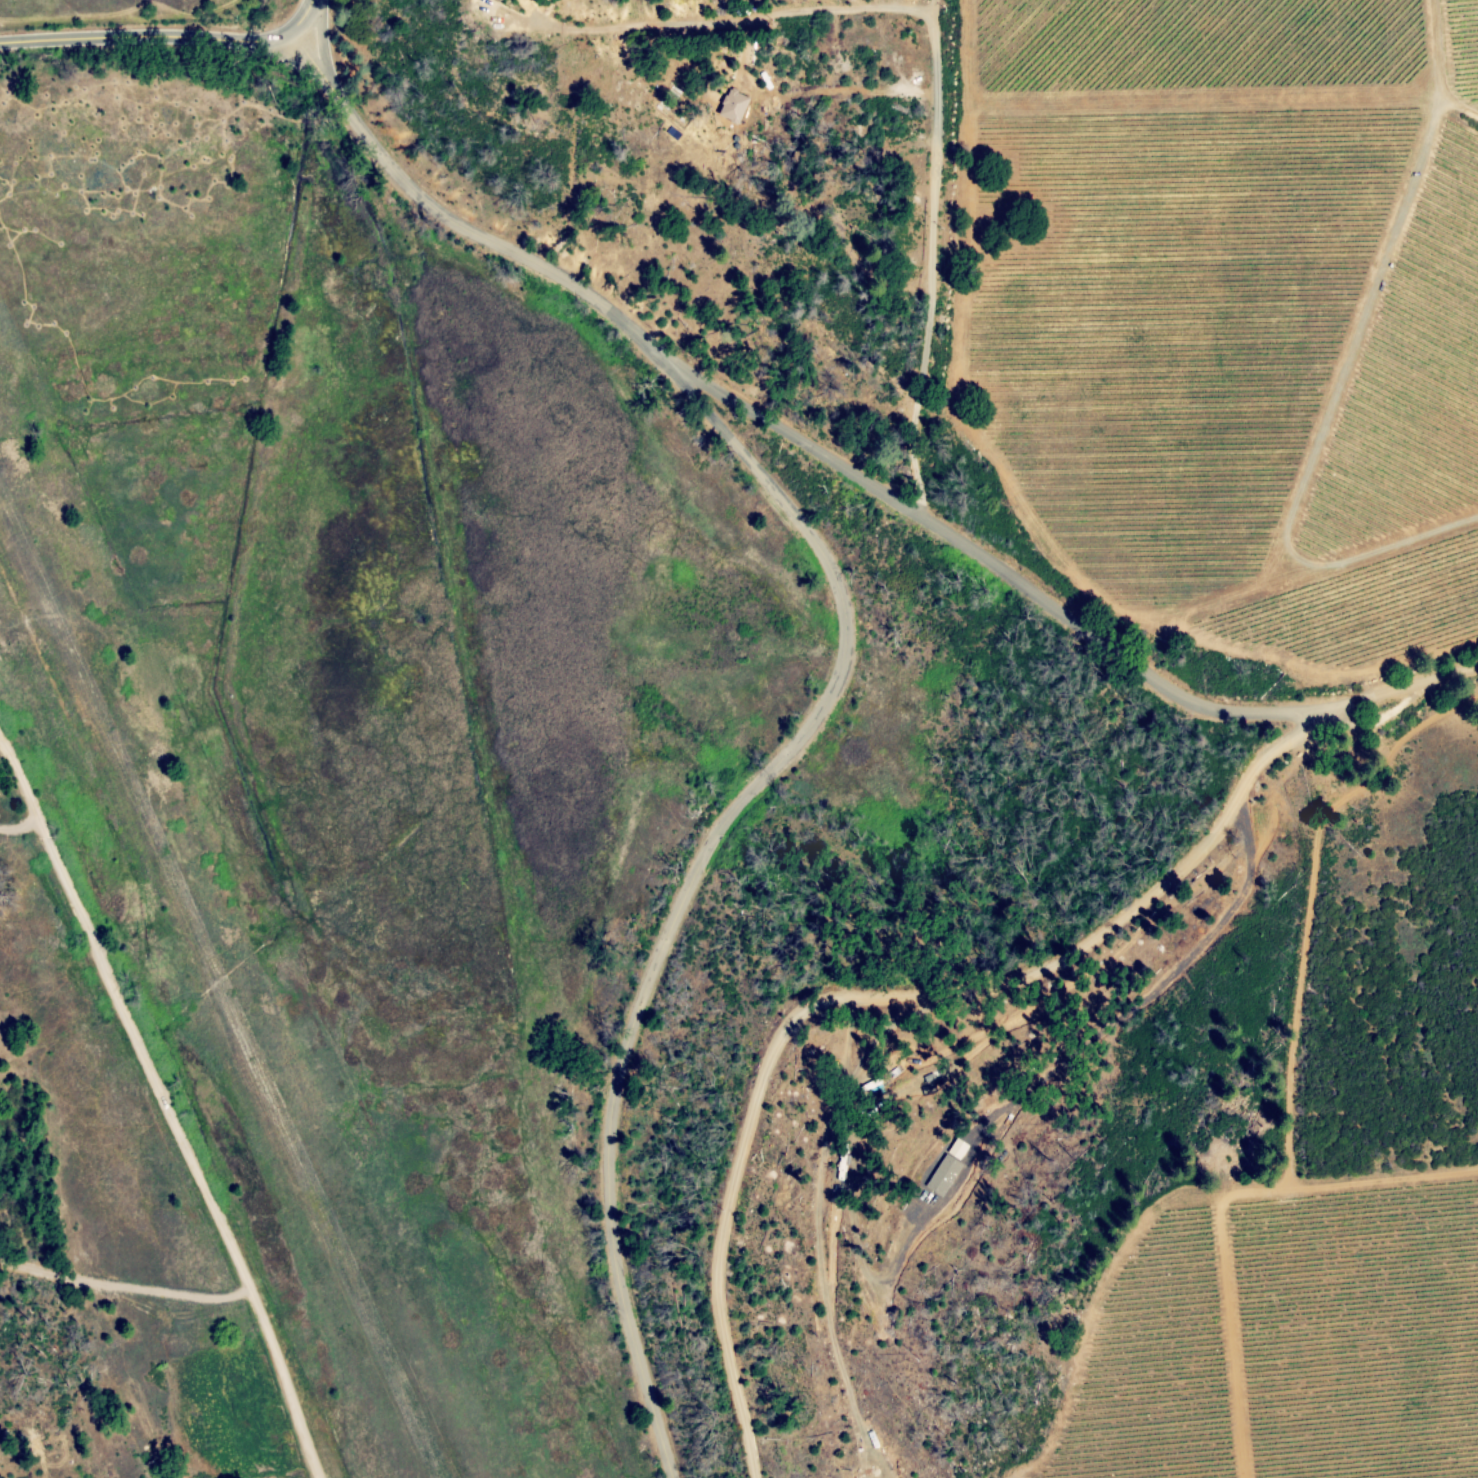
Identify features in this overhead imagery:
road: (724, 22)
road: (163, 34)
building: (733, 106)
building: (738, 116)
road: (931, 260)
road: (1047, 542)
road: (1012, 582)
road: (841, 668)
road: (21, 817)
airport runway: (220, 985)
road: (880, 991)
road: (160, 1095)
building: (943, 1175)
road: (124, 1289)

